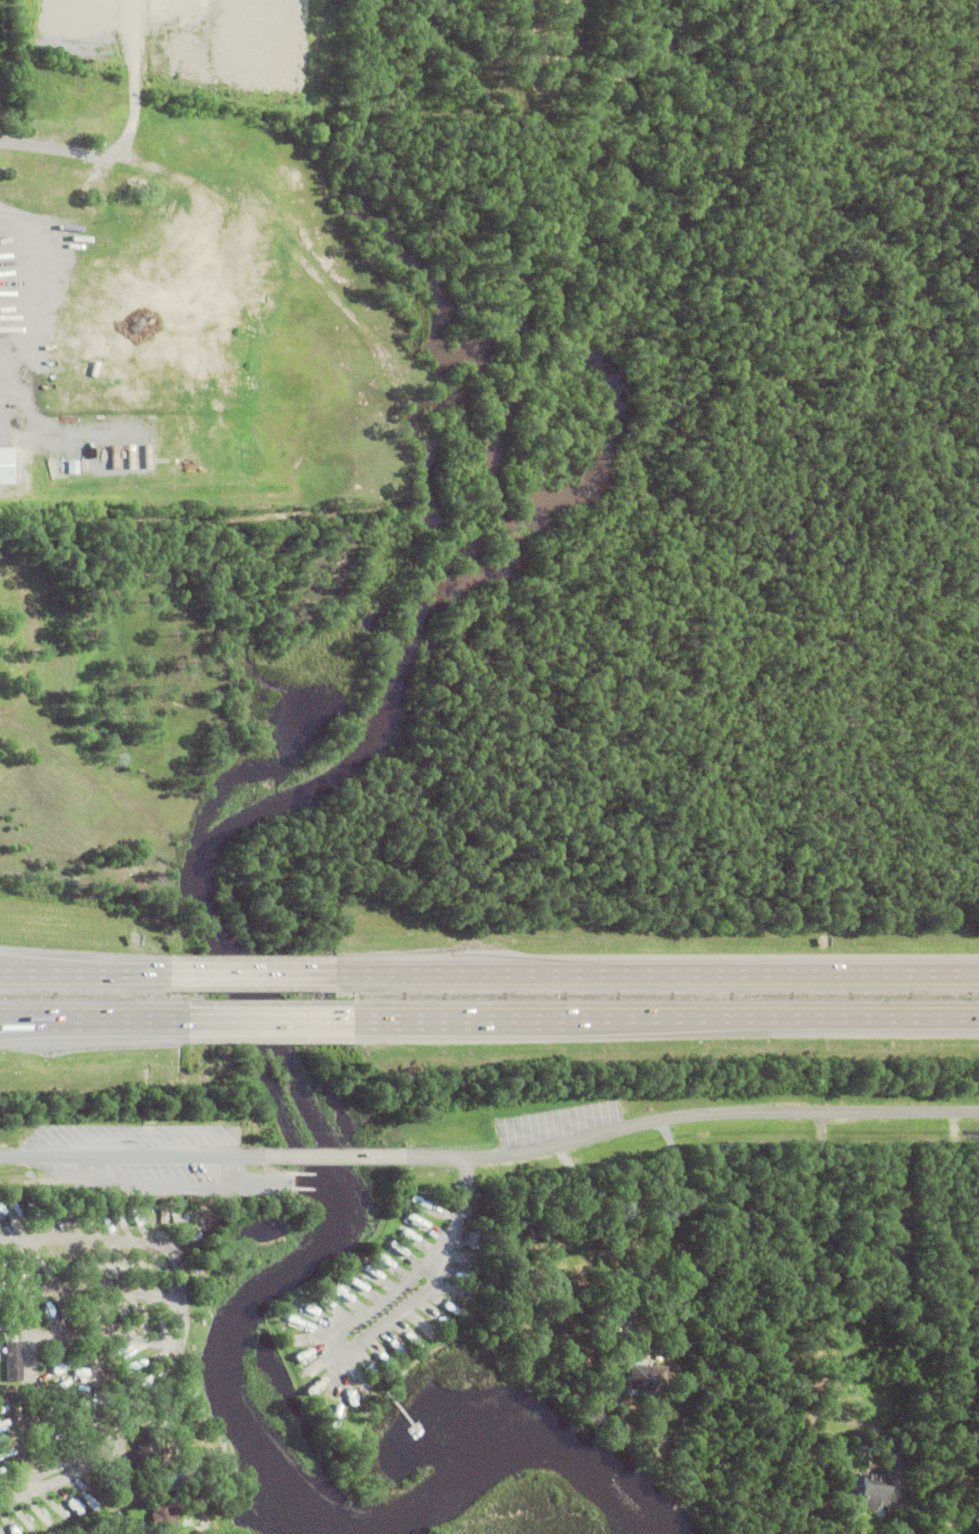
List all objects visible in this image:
building: (124, 211)
building: (2, 465)
road: (51, 962)
road: (81, 968)
road: (246, 968)
road: (654, 969)
road: (91, 1021)
road: (664, 1022)
road: (267, 1023)
road: (54, 1028)
road: (491, 1155)
building: (181, 1217)
building: (470, 1237)
road: (111, 1289)
road: (181, 1295)
road: (369, 1310)
road: (30, 1351)
building: (118, 1353)
building: (12, 1357)
building: (643, 1374)
building: (603, 1380)
building: (191, 1410)
building: (145, 1454)
building: (171, 1474)
road: (40, 1484)
building: (868, 1487)
building: (892, 1510)
building: (164, 1515)

